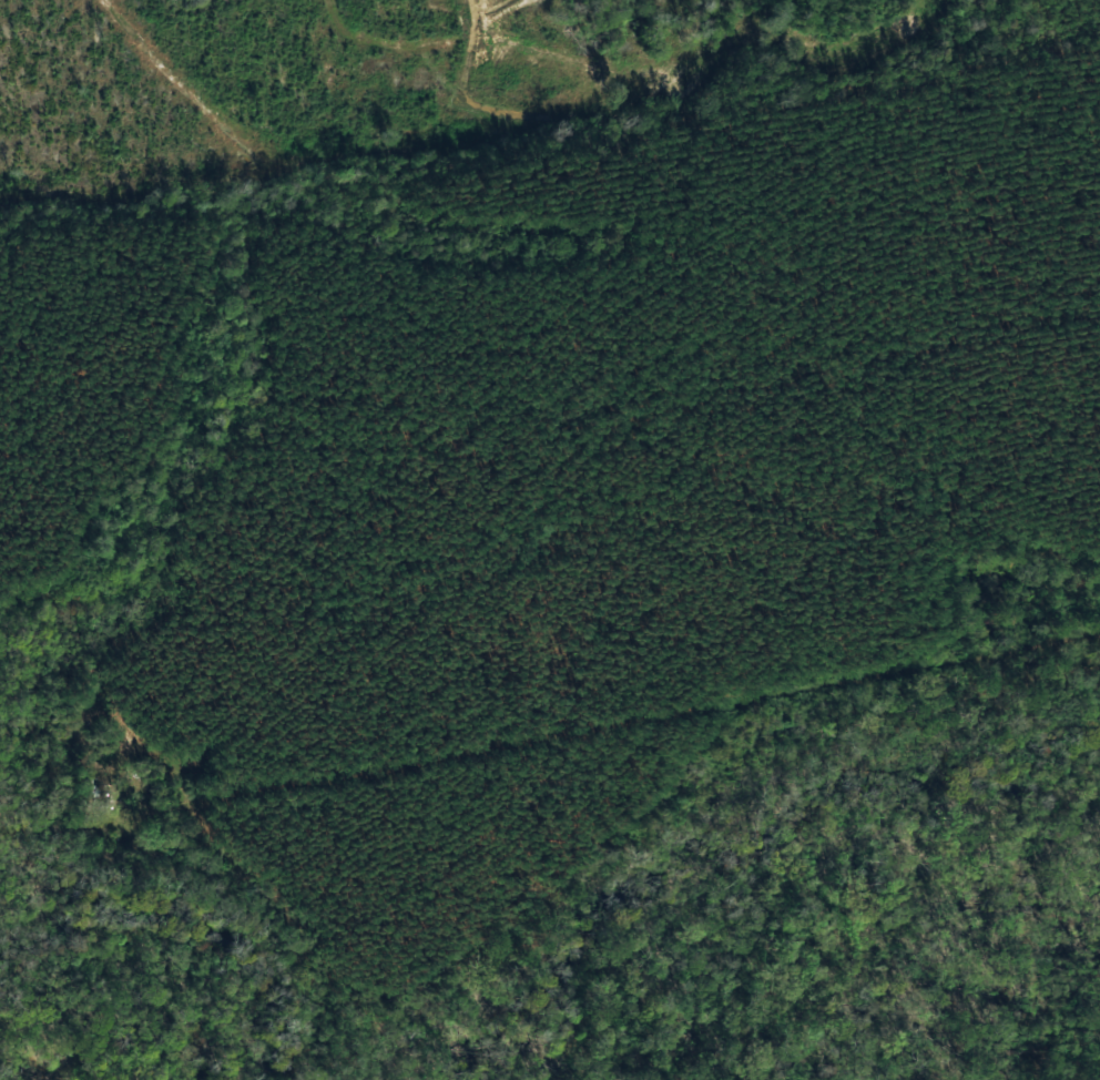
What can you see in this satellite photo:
road: (550, 746)

